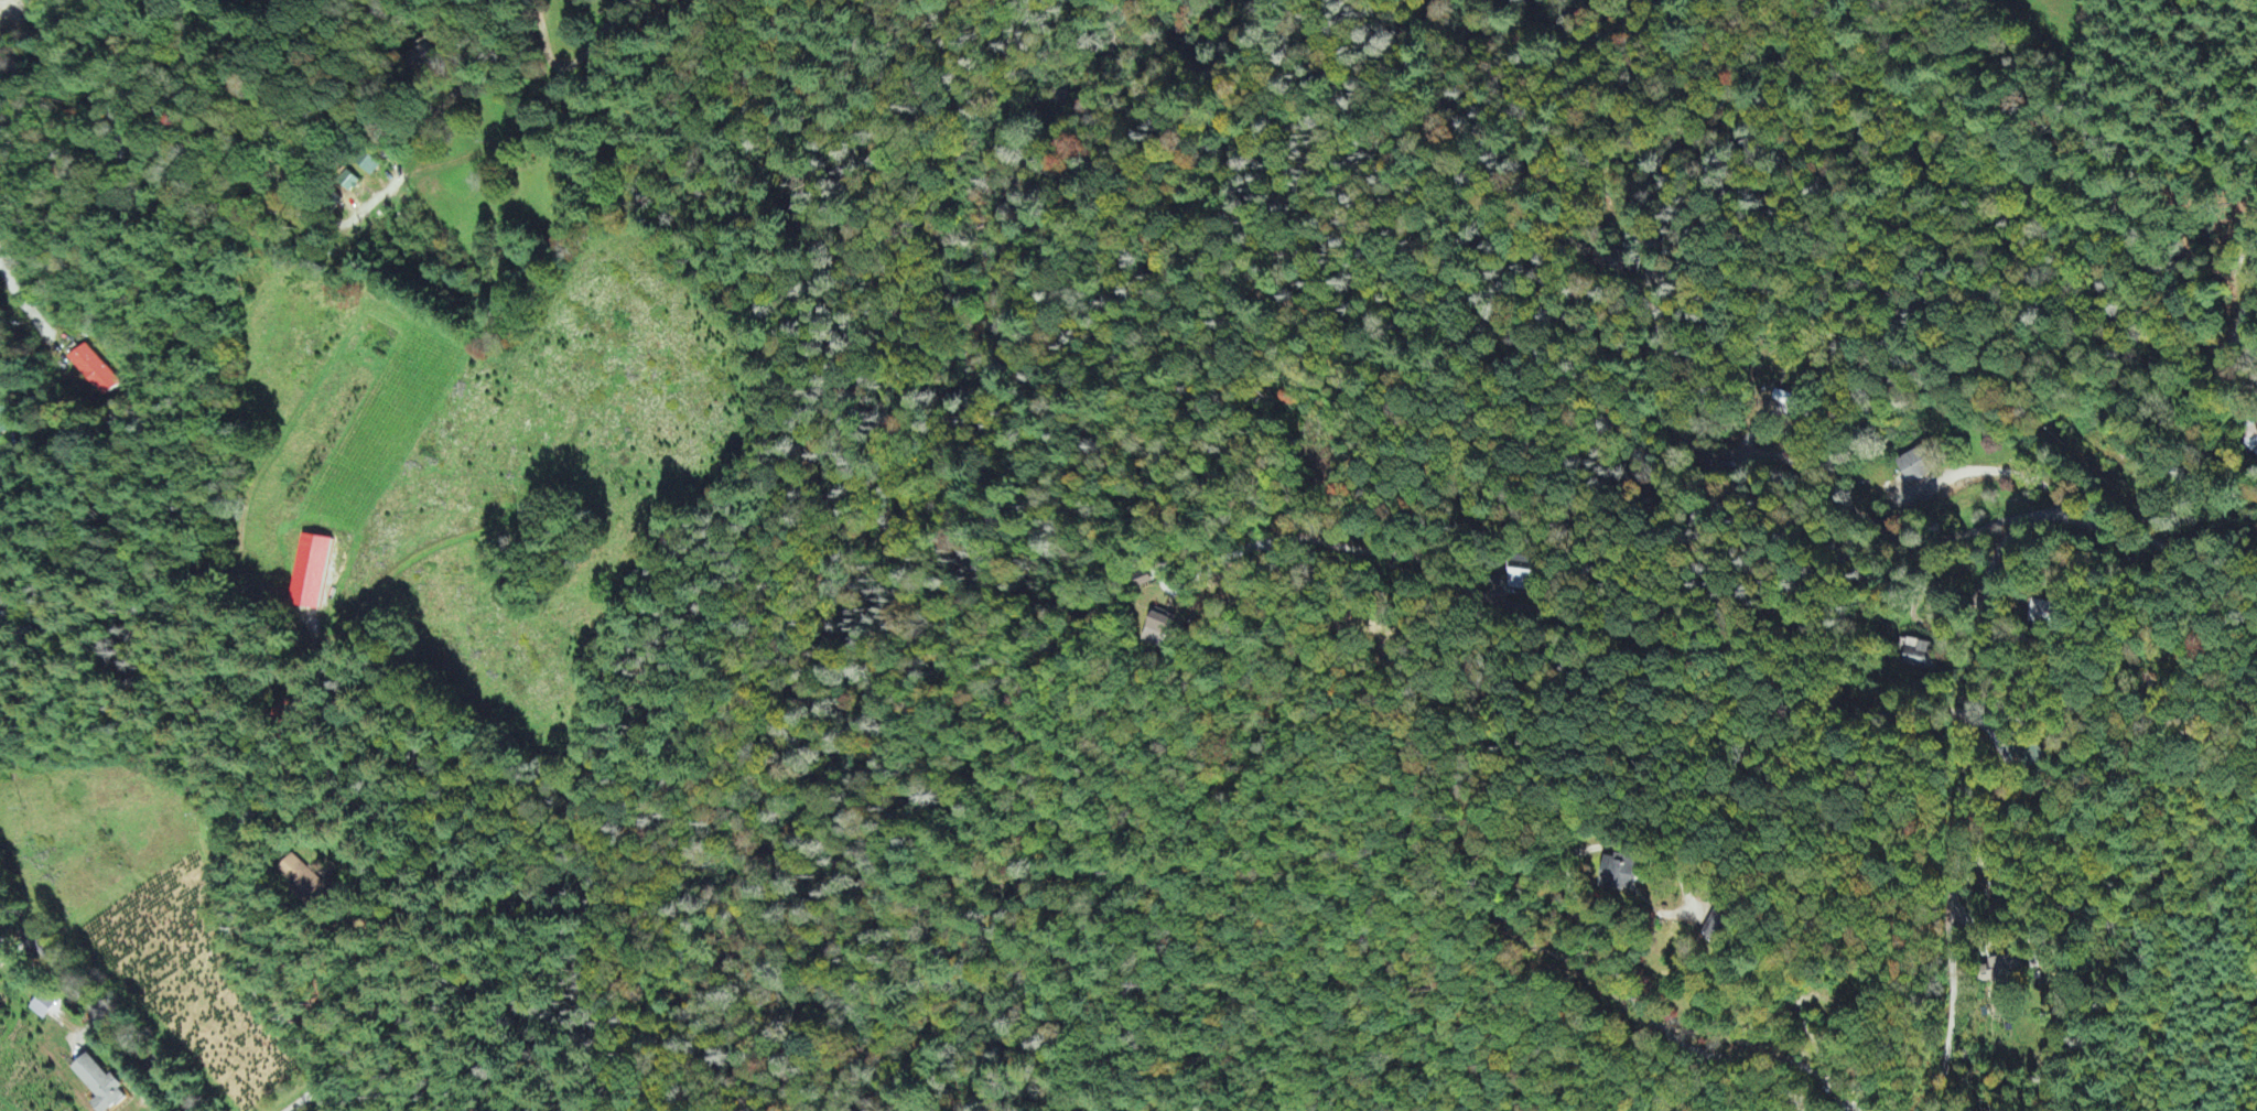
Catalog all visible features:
road: (322, 149)
road: (2121, 219)
road: (2200, 269)
road: (22, 304)
building: (1913, 467)
road: (1998, 470)
building: (1527, 571)
building: (307, 574)
building: (2045, 614)
building: (1158, 632)
building: (1916, 655)
road: (1976, 672)
building: (1616, 874)
building: (302, 881)
building: (2009, 969)
road: (93, 1003)
road: (1680, 1039)
building: (95, 1086)

